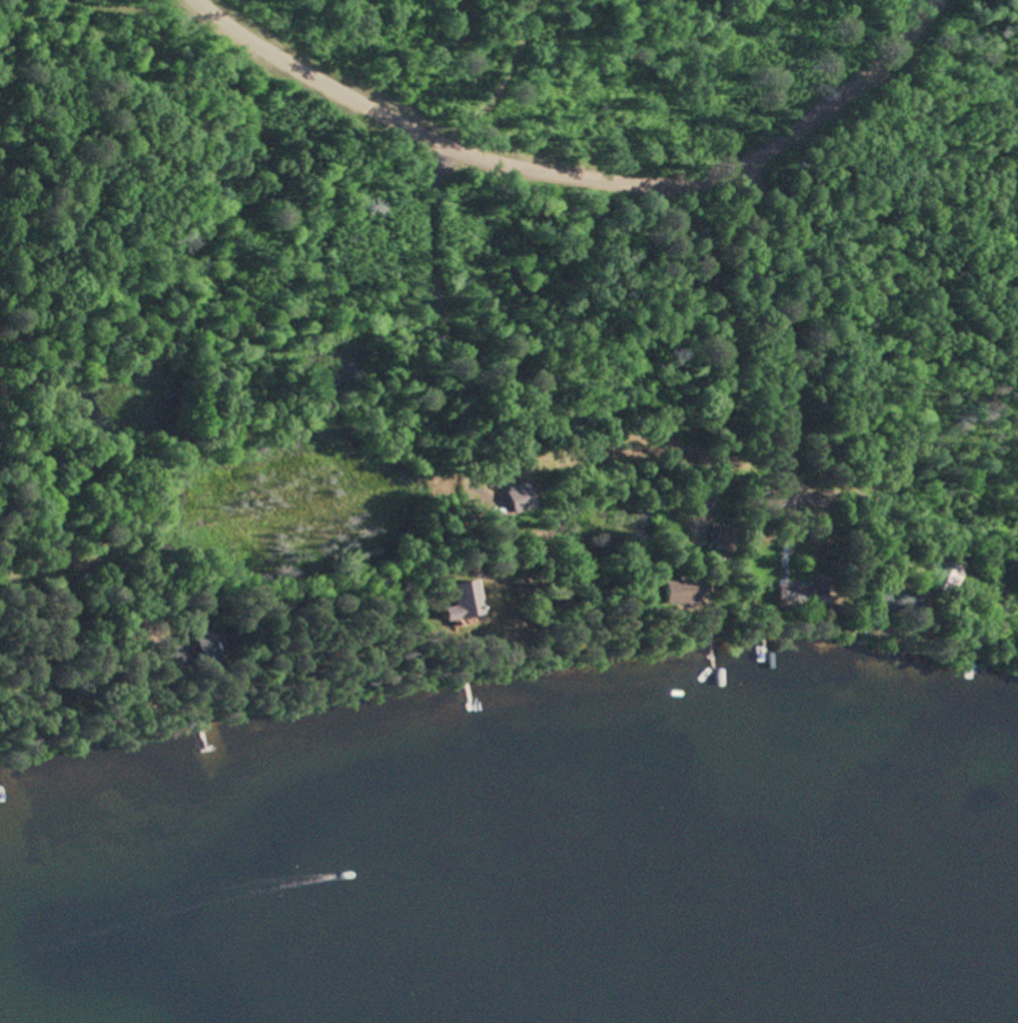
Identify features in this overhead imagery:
road: (577, 179)
building: (722, 541)
building: (683, 592)
building: (804, 596)
building: (897, 601)
building: (497, 609)

